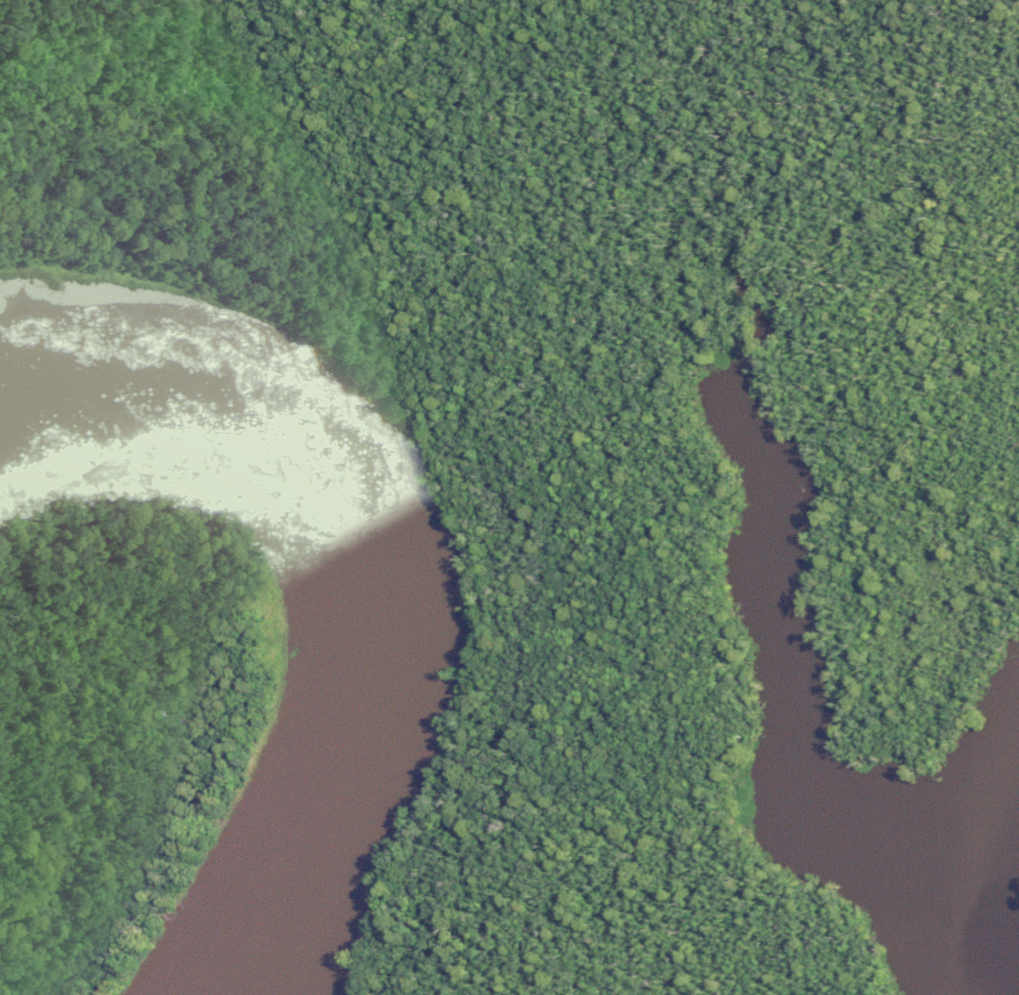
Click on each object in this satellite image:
river: (362, 555)

